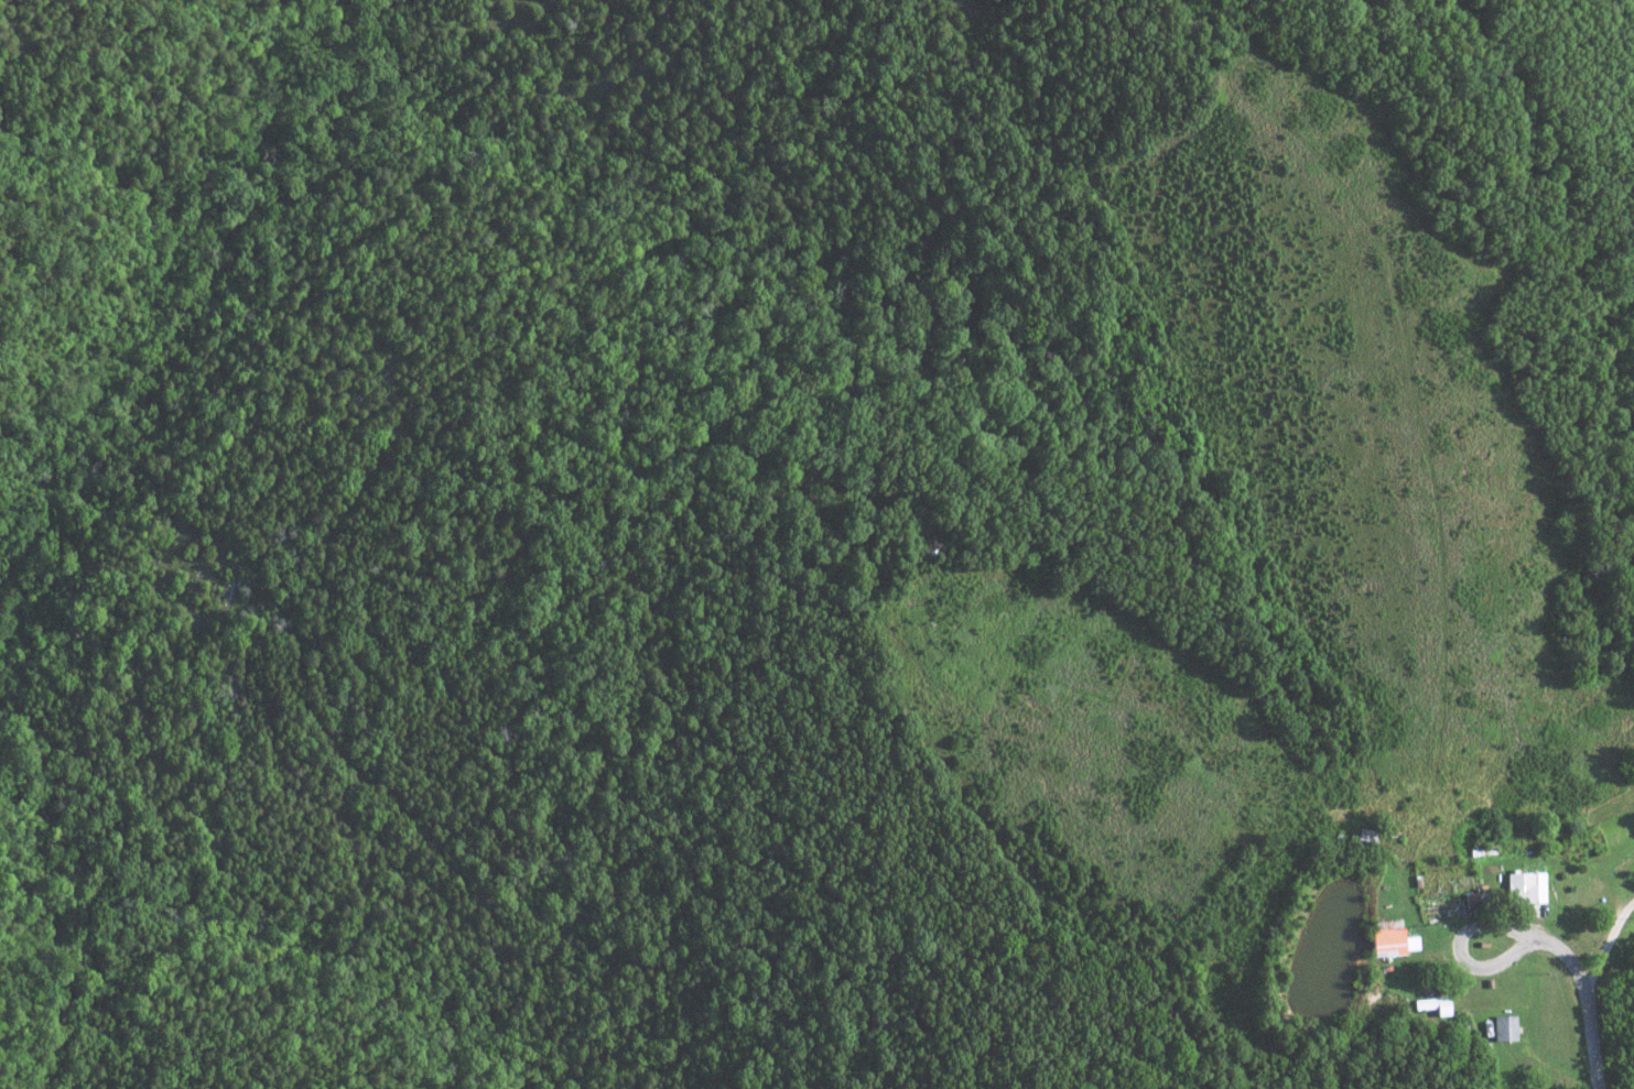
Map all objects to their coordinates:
building: (1522, 886)
road: (1492, 929)
building: (1387, 938)
road: (1605, 939)
road: (1584, 1001)
building: (1430, 1004)
building: (1502, 1027)

